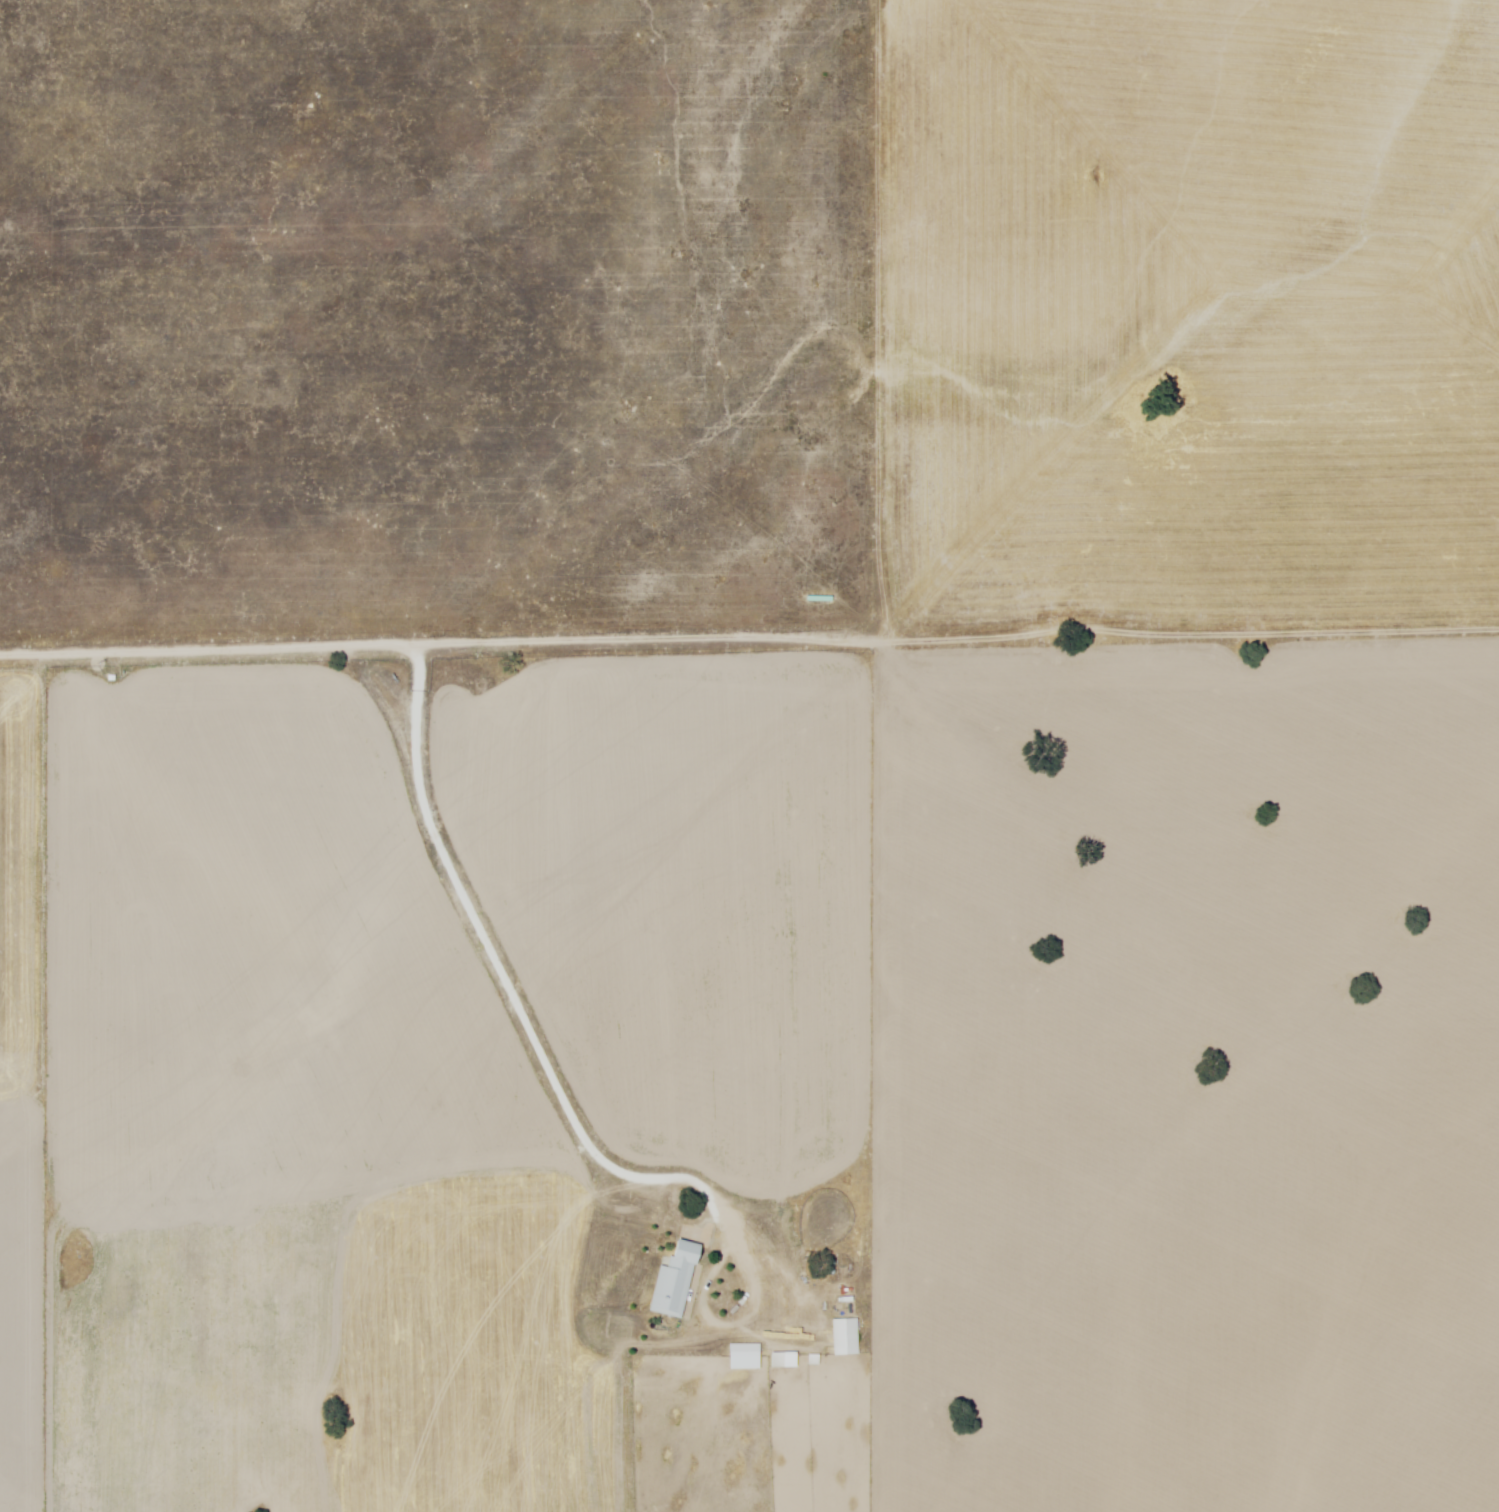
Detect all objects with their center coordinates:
road: (878, 319)
road: (749, 641)
building: (674, 1281)
building: (844, 1333)
building: (744, 1361)

